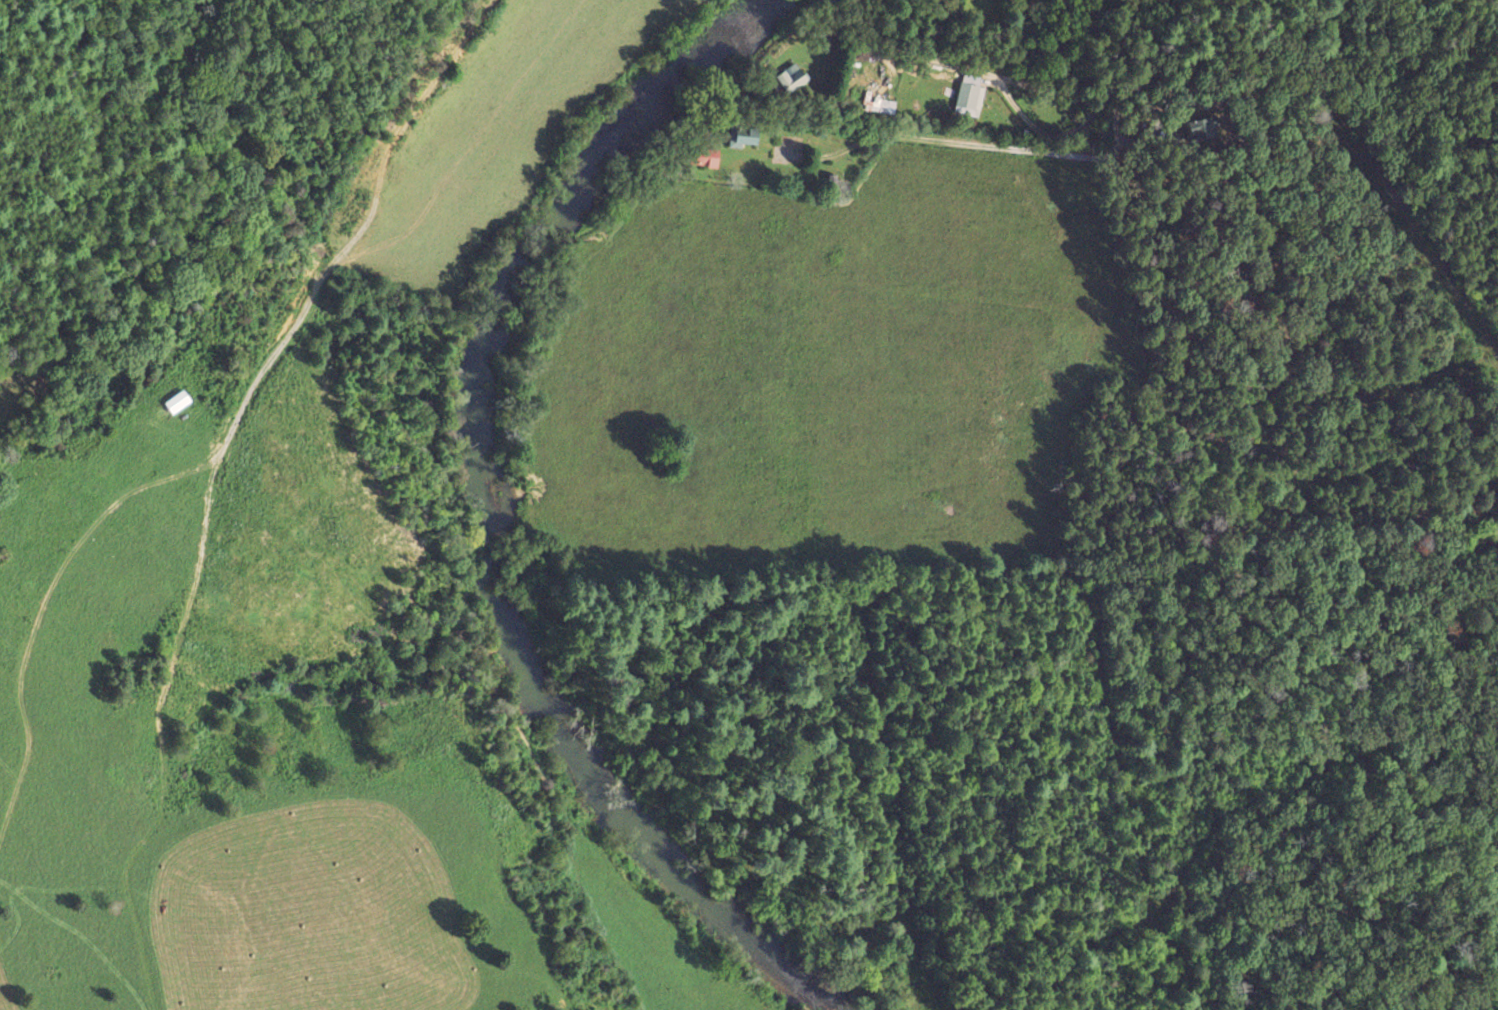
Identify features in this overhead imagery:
road: (1082, 155)
river: (472, 514)

